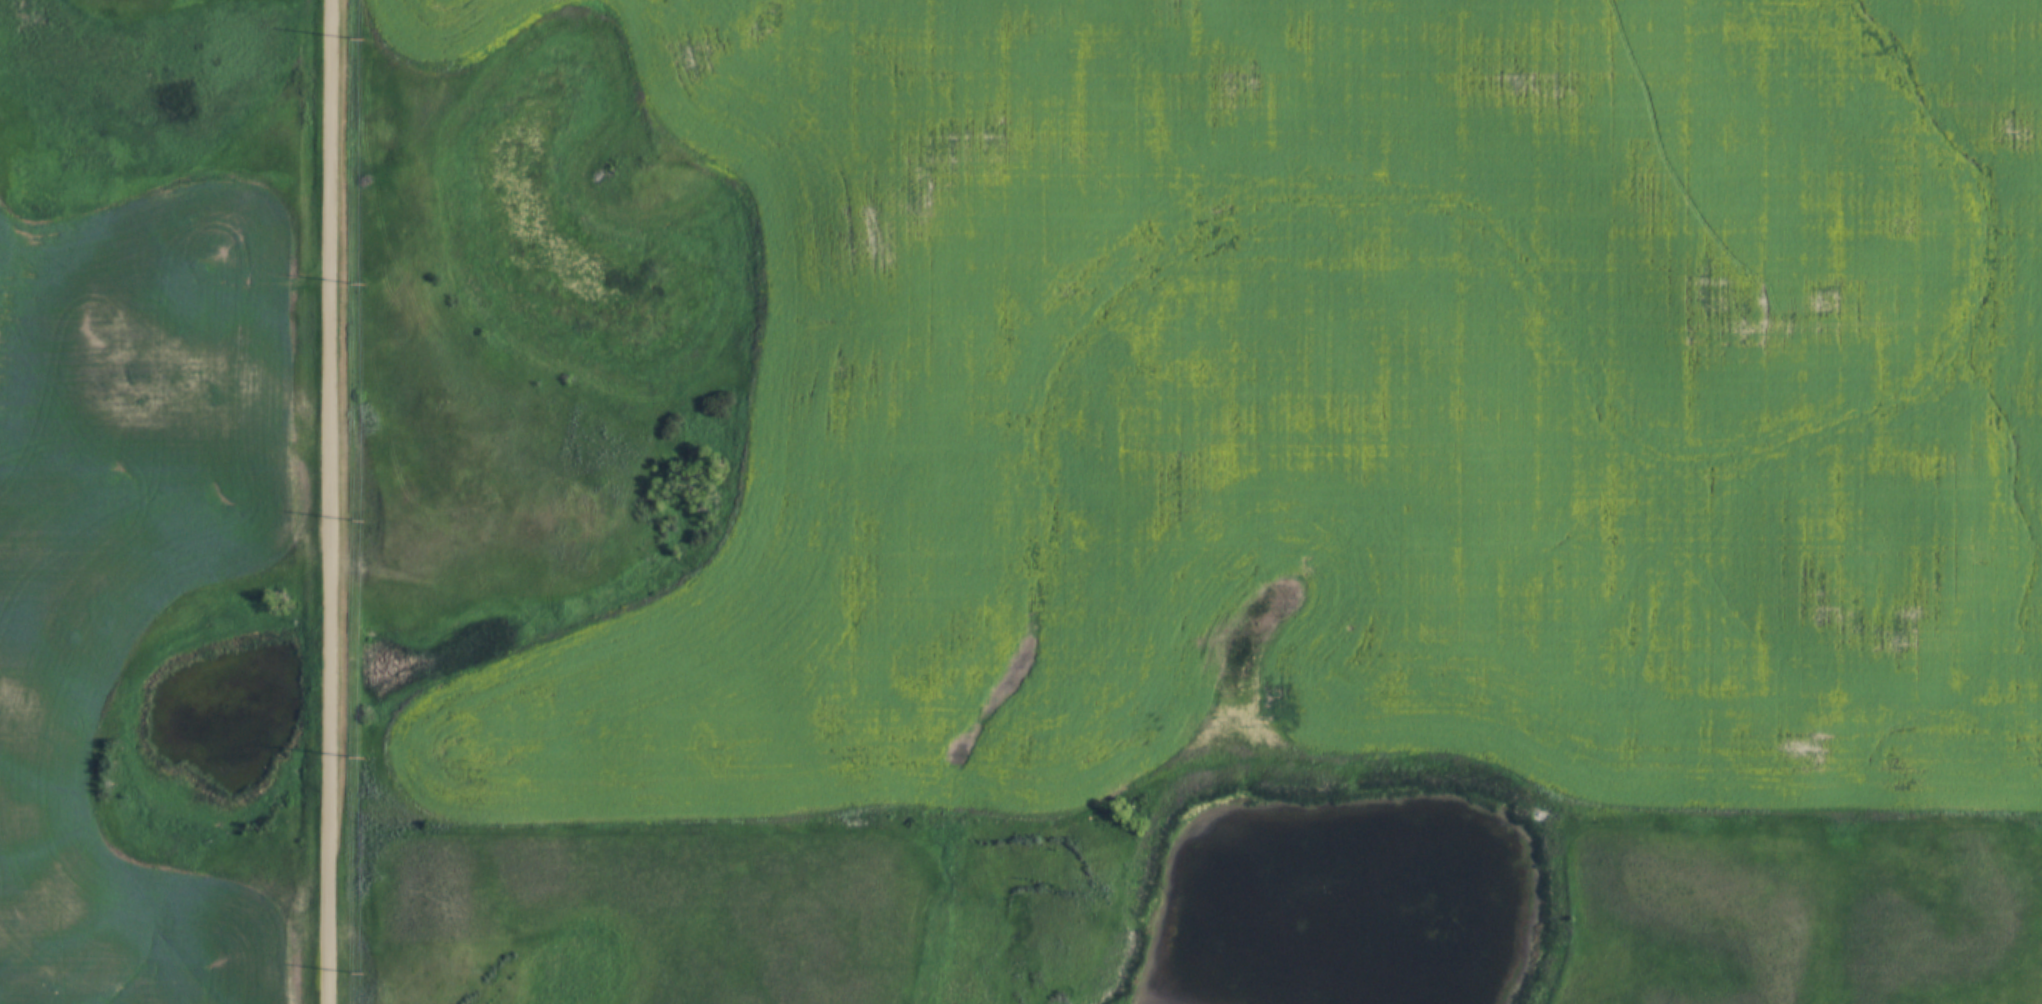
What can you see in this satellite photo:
wind turbine: (1749, 291)
road: (330, 501)

